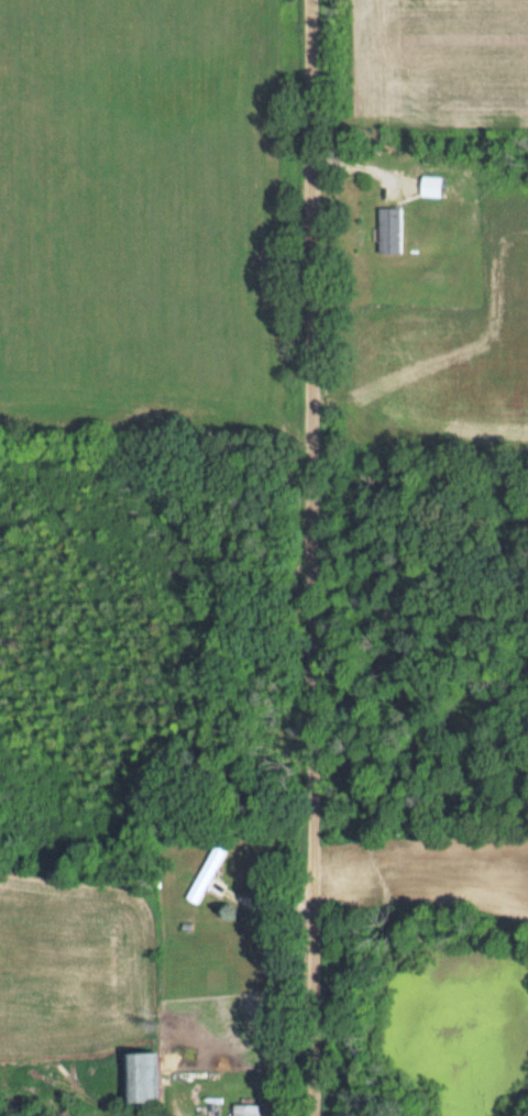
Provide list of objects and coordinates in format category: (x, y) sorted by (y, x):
building: (388, 229)
road: (315, 557)
building: (206, 874)
building: (141, 1078)
building: (245, 1109)

